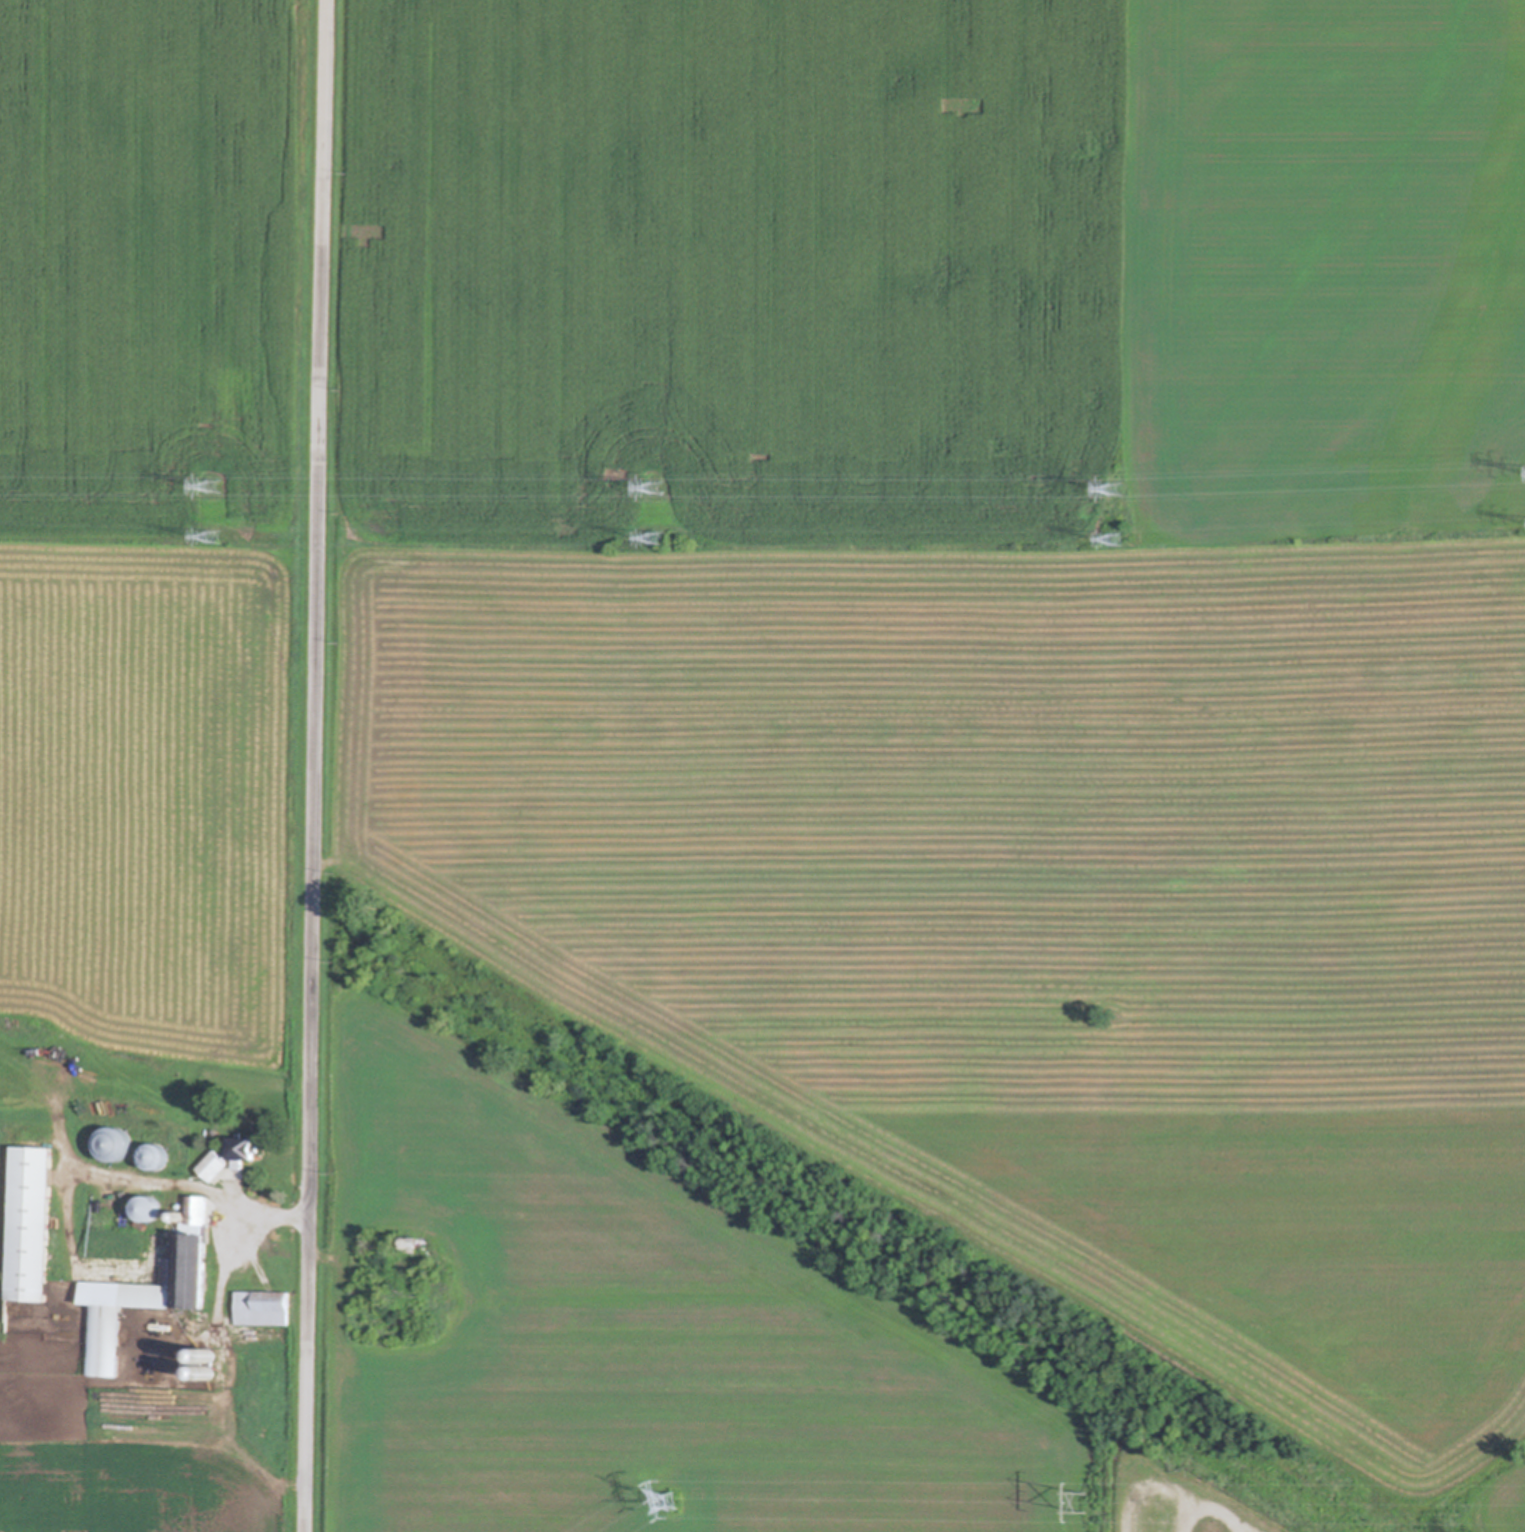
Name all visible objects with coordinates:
power tower: (214, 486)
power tower: (656, 488)
power tower: (1115, 490)
power tower: (213, 536)
power tower: (657, 539)
power tower: (1116, 540)
road: (317, 765)
building: (116, 1143)
building: (244, 1153)
building: (157, 1156)
building: (215, 1167)
building: (150, 1208)
building: (183, 1216)
building: (32, 1226)
building: (414, 1242)
building: (151, 1292)
building: (263, 1309)
building: (208, 1356)
building: (207, 1377)
road: (1188, 1488)
power tower: (669, 1503)
power tower: (1087, 1504)
road: (1195, 1513)
road: (1252, 1527)

